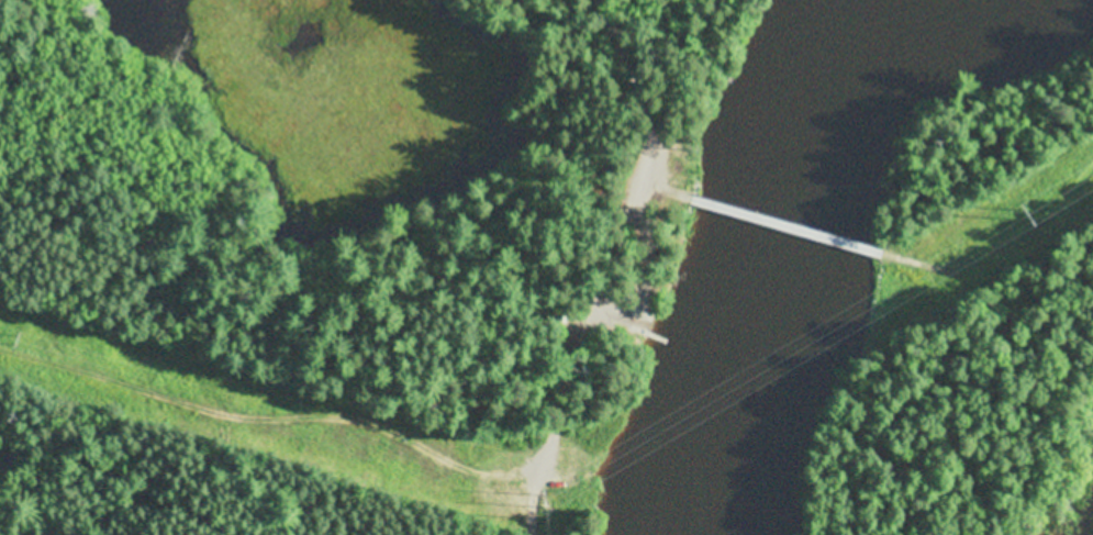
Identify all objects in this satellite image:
road: (636, 159)
river: (779, 267)

